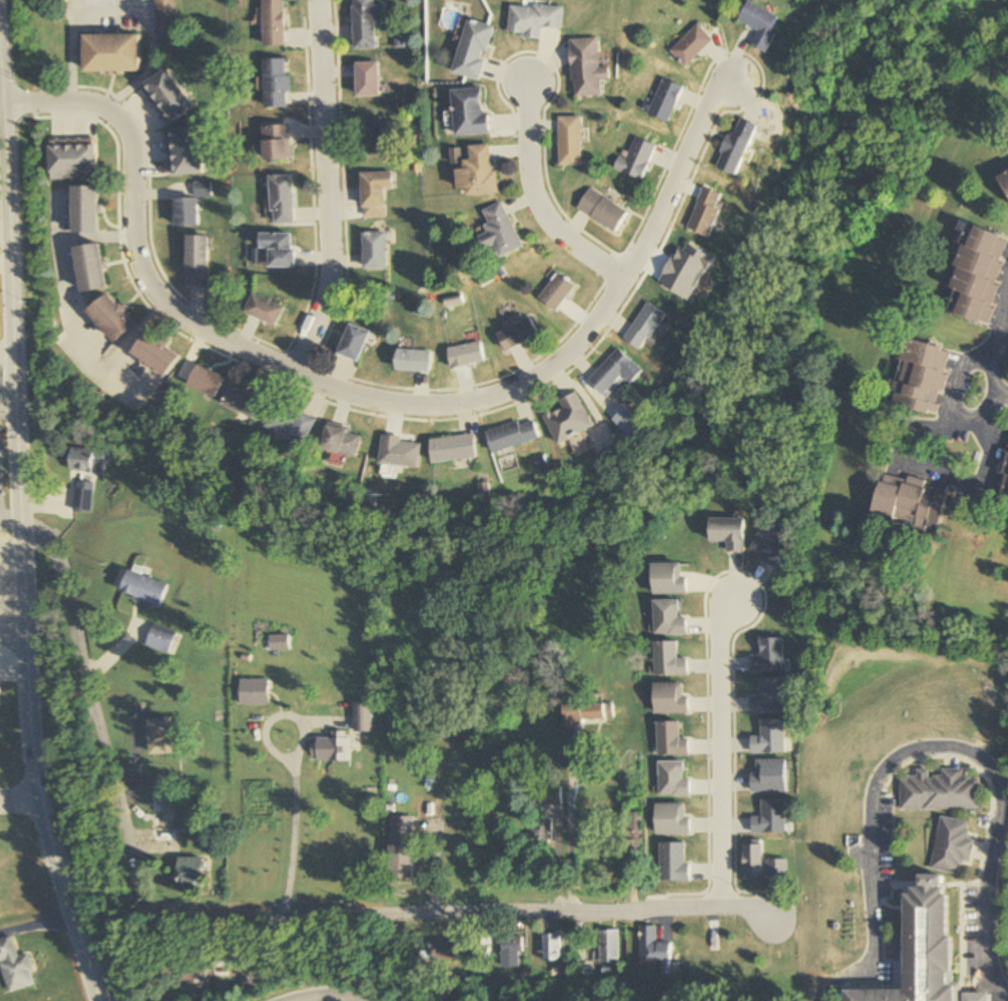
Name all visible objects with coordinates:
building: (165, 19)
building: (532, 20)
building: (274, 23)
building: (364, 24)
building: (760, 26)
building: (691, 45)
building: (473, 50)
building: (112, 54)
building: (586, 68)
building: (366, 80)
building: (277, 84)
building: (168, 96)
building: (664, 100)
building: (469, 112)
building: (369, 135)
building: (569, 141)
building: (277, 144)
building: (738, 147)
building: (187, 152)
building: (636, 159)
building: (74, 163)
building: (477, 172)
building: (1004, 178)
road: (325, 190)
building: (372, 193)
road: (538, 199)
building: (281, 201)
building: (601, 210)
building: (87, 211)
building: (186, 213)
building: (707, 213)
building: (499, 232)
building: (278, 250)
building: (372, 251)
building: (196, 262)
building: (92, 269)
building: (977, 275)
building: (557, 293)
building: (263, 311)
building: (112, 319)
road: (994, 324)
building: (645, 327)
building: (516, 333)
road: (999, 335)
building: (352, 344)
building: (156, 353)
building: (466, 356)
building: (413, 362)
building: (611, 372)
building: (921, 378)
building: (206, 380)
road: (947, 388)
road: (998, 393)
road: (366, 399)
building: (246, 401)
building: (569, 419)
building: (292, 423)
building: (513, 434)
building: (343, 441)
building: (454, 448)
building: (400, 451)
building: (86, 460)
road: (927, 469)
building: (1004, 481)
building: (911, 501)
road: (19, 535)
building: (142, 588)
building: (279, 642)
building: (254, 692)
building: (588, 712)
building: (363, 716)
building: (160, 737)
road: (925, 746)
building: (332, 747)
road: (721, 750)
road: (290, 771)
building: (938, 791)
building: (552, 795)
road: (17, 799)
building: (165, 817)
road: (565, 823)
building: (633, 834)
building: (538, 836)
building: (950, 845)
building: (753, 861)
building: (402, 862)
building: (191, 872)
road: (248, 913)
building: (610, 946)
building: (653, 946)
building: (552, 947)
building: (923, 949)
building: (446, 950)
building: (512, 953)
building: (15, 966)
building: (193, 974)
road: (321, 996)

